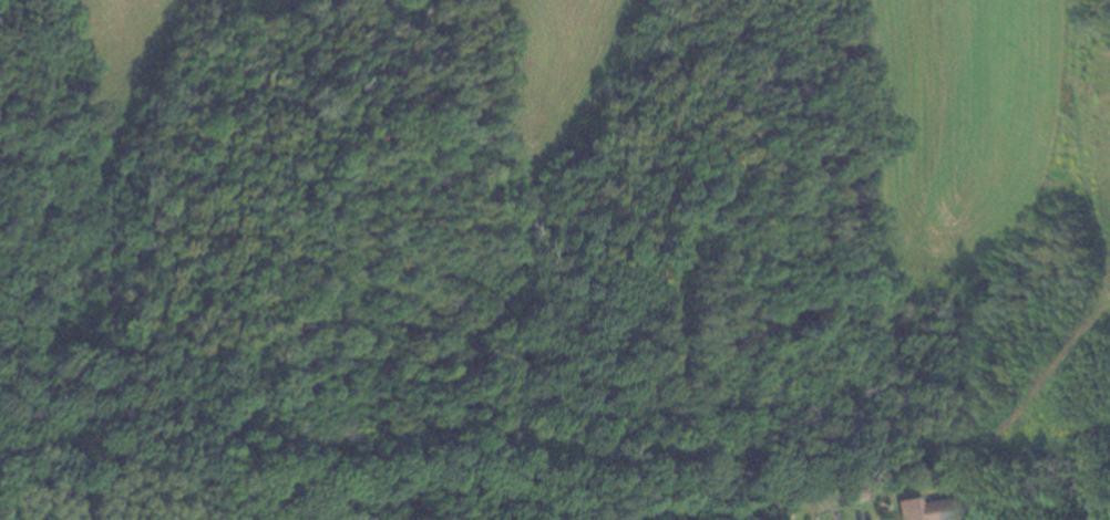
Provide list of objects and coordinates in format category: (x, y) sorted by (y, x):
building: (925, 509)

